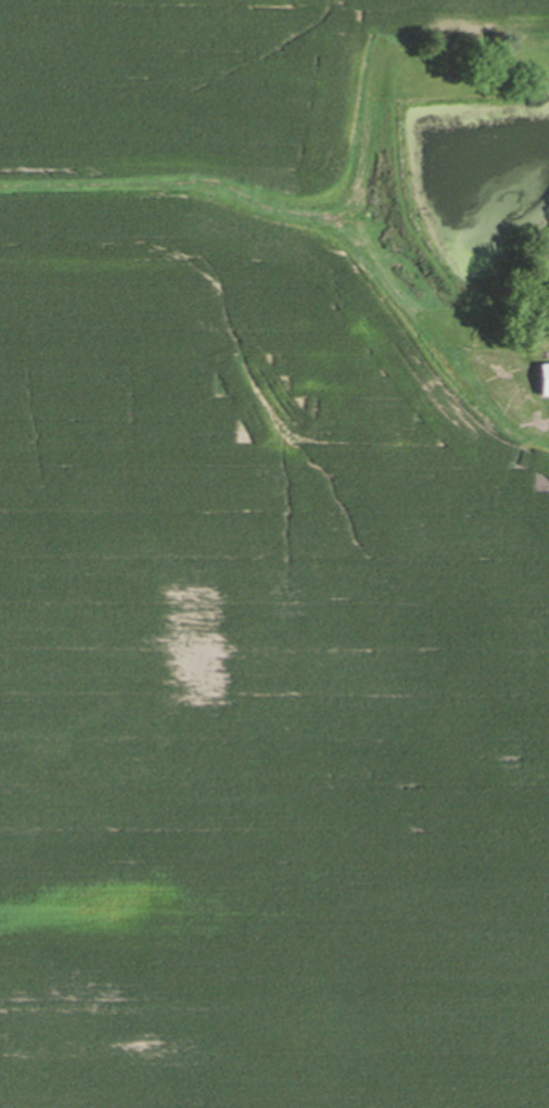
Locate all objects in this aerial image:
building: (544, 377)

